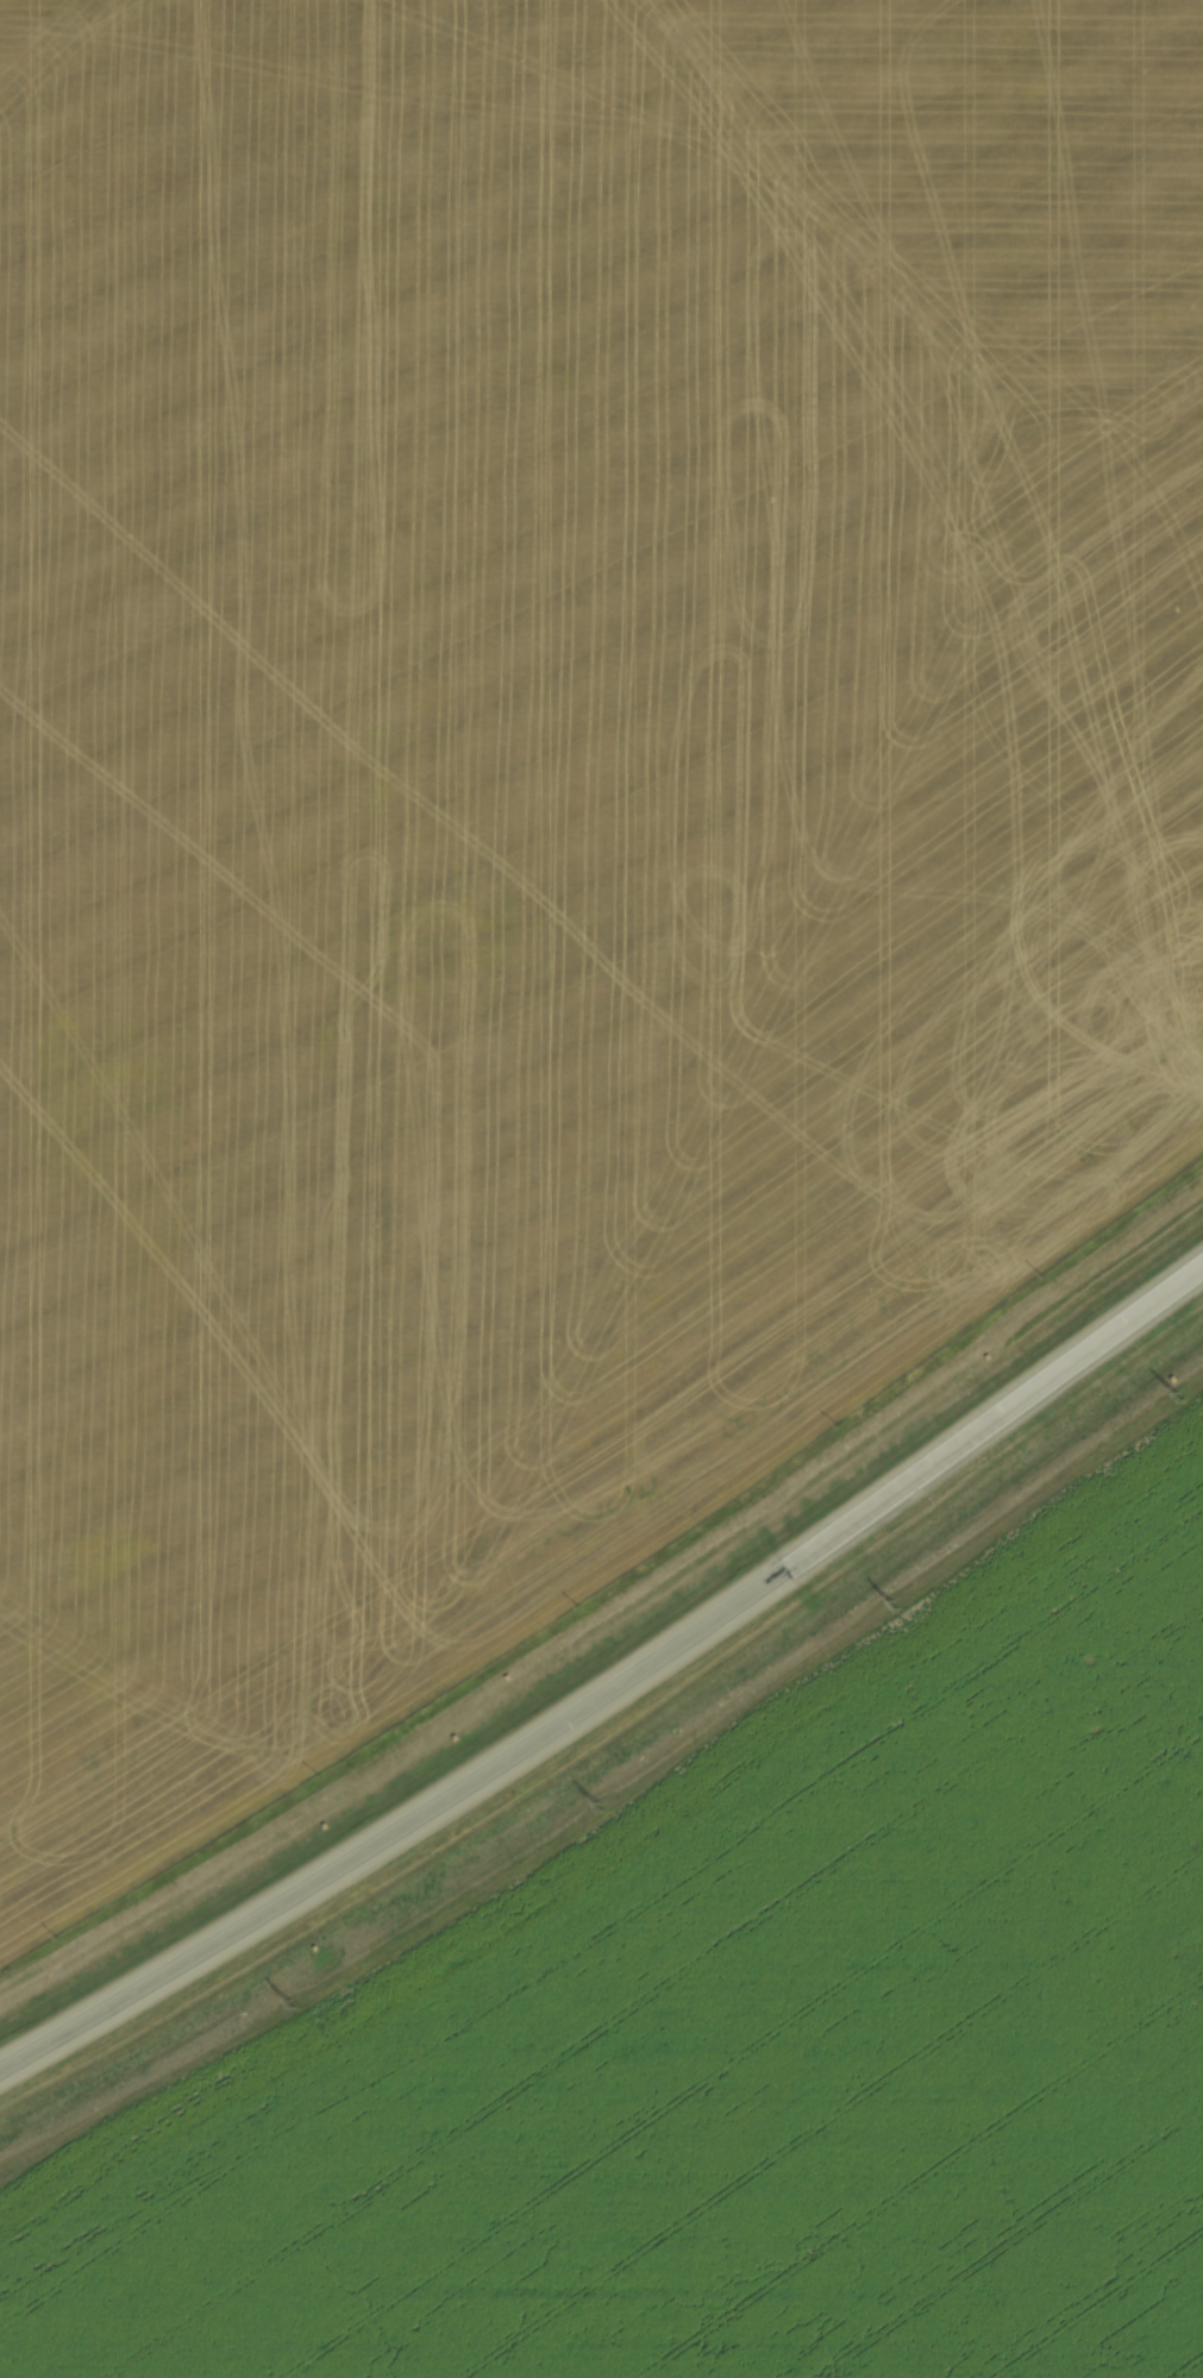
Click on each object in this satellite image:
road: (614, 1690)

